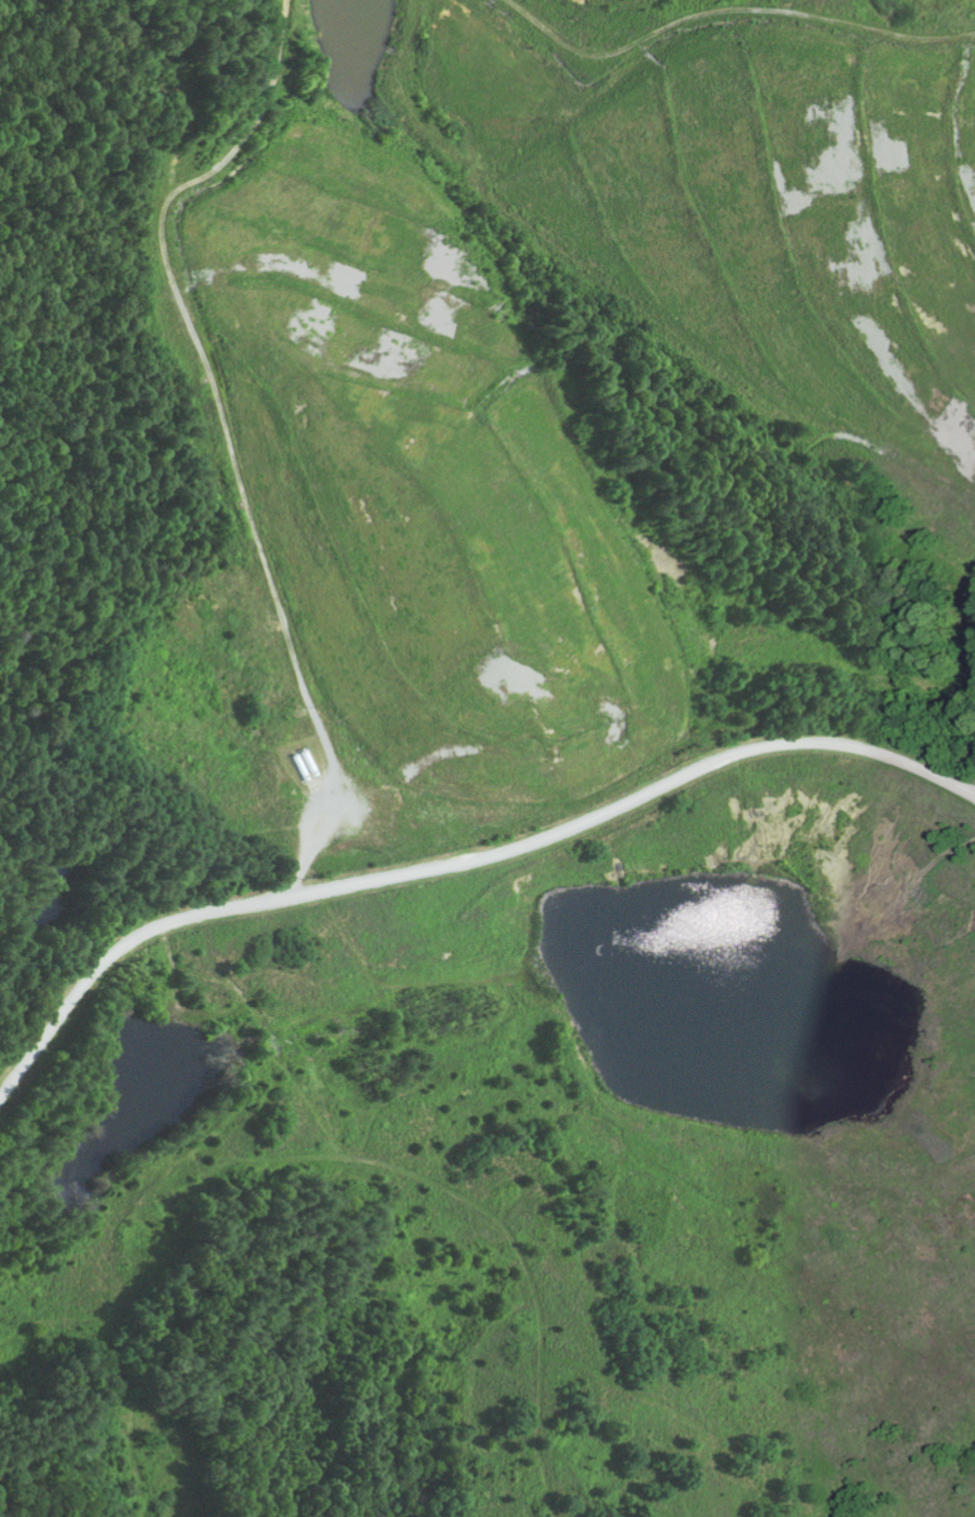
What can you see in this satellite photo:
road: (463, 864)

